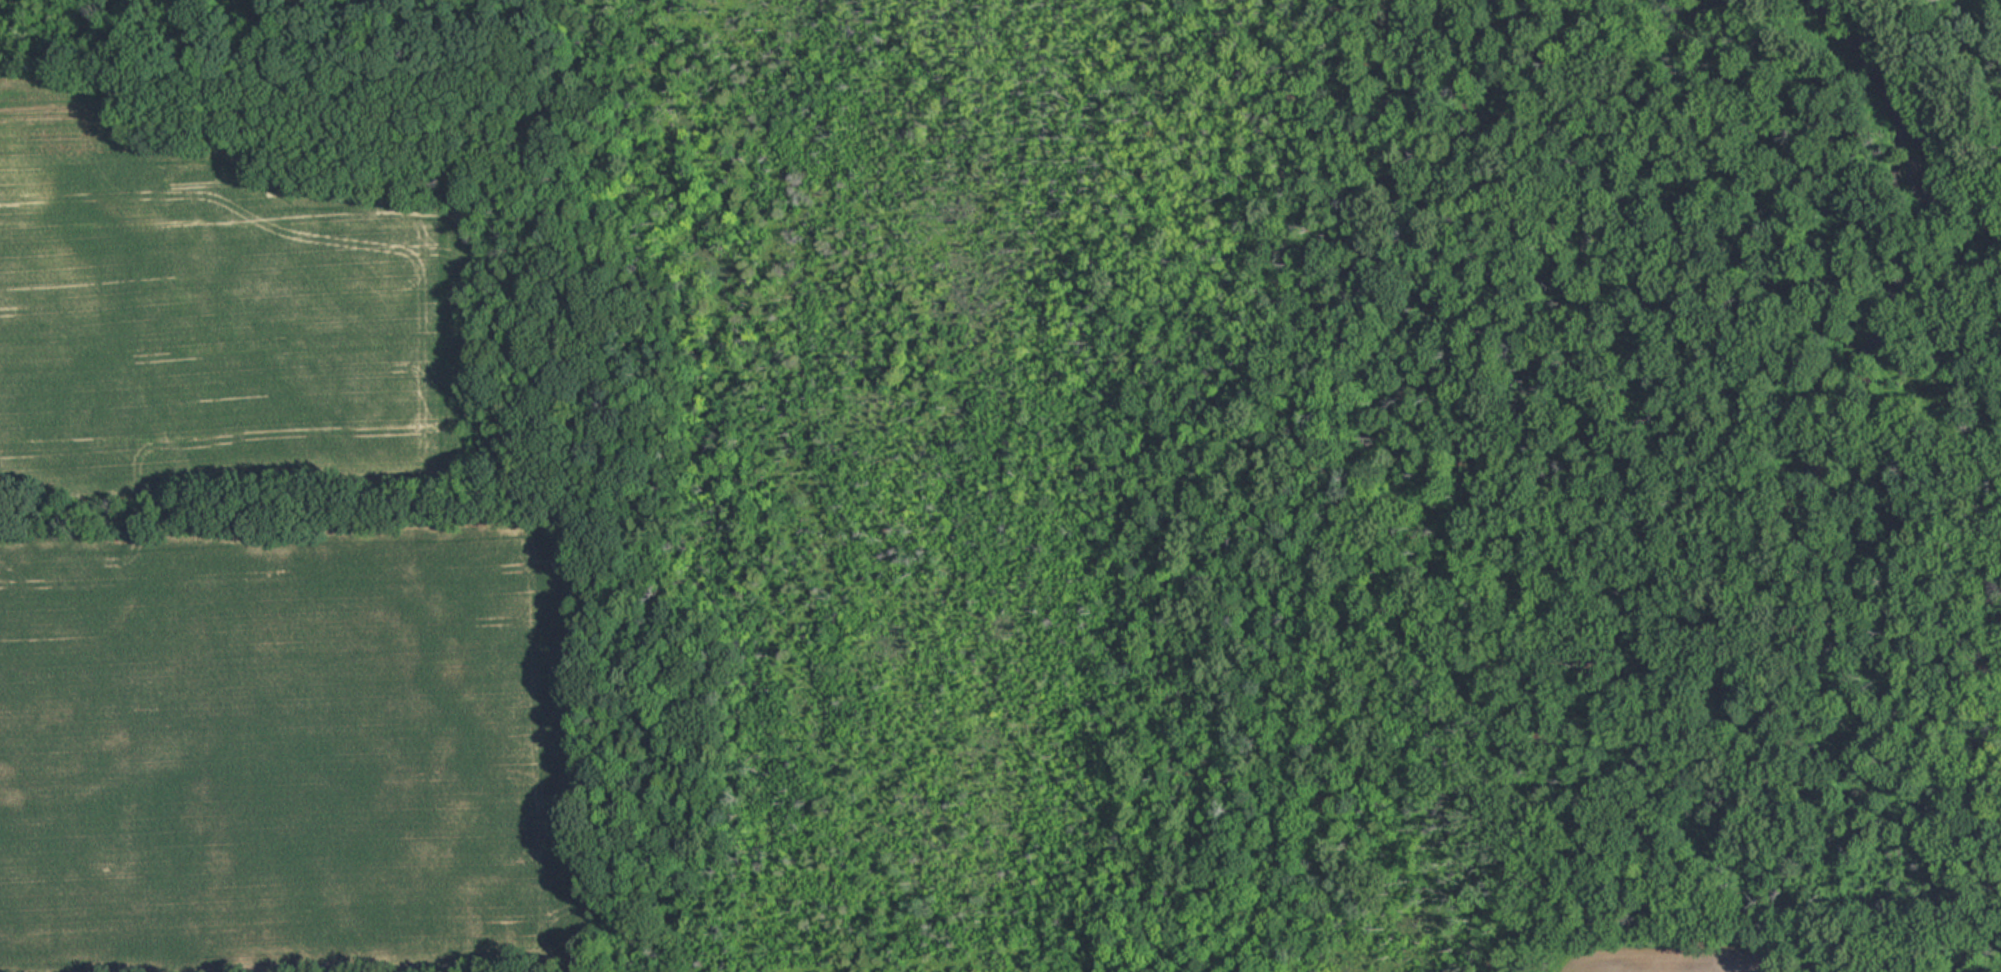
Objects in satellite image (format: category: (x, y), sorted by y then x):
river: (1909, 117)

